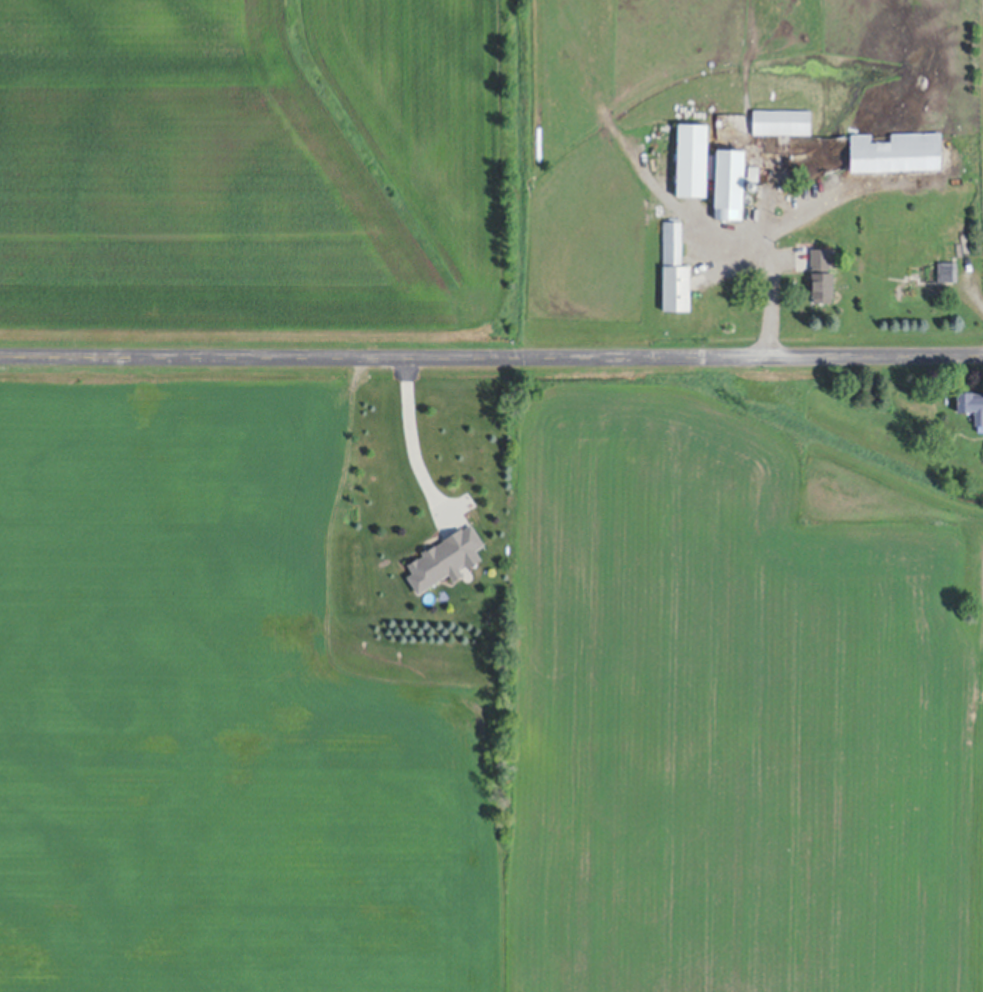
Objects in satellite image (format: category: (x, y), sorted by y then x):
building: (781, 121)
building: (895, 152)
building: (692, 159)
building: (729, 183)
building: (751, 186)
building: (769, 190)
road: (766, 240)
building: (950, 251)
building: (674, 270)
building: (945, 272)
building: (821, 276)
road: (491, 352)
building: (971, 406)
road: (413, 438)
building: (445, 559)
road: (979, 592)
road: (979, 633)

